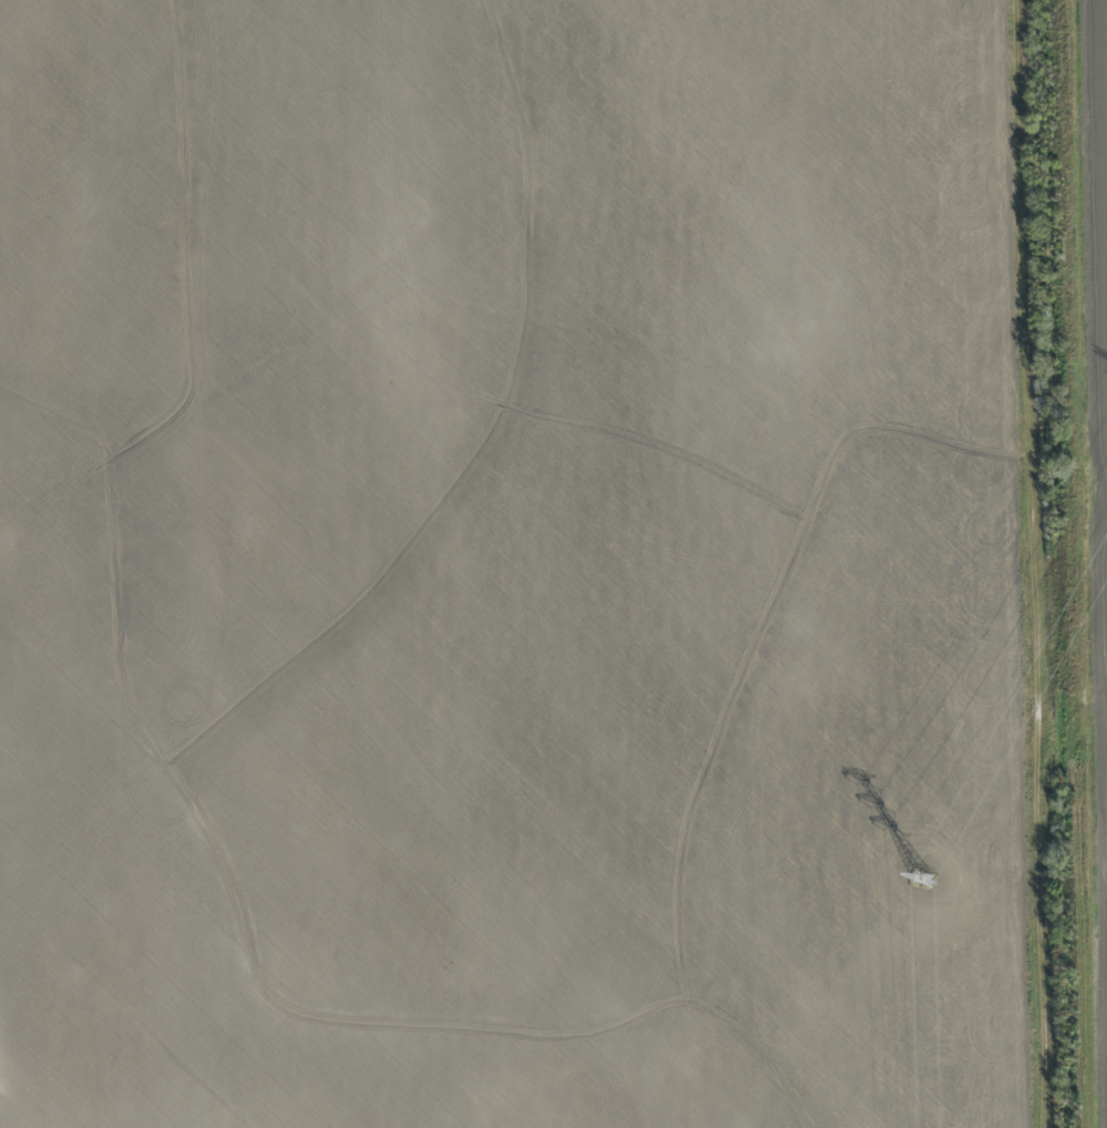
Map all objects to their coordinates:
road: (1088, 564)
power tower: (922, 880)

